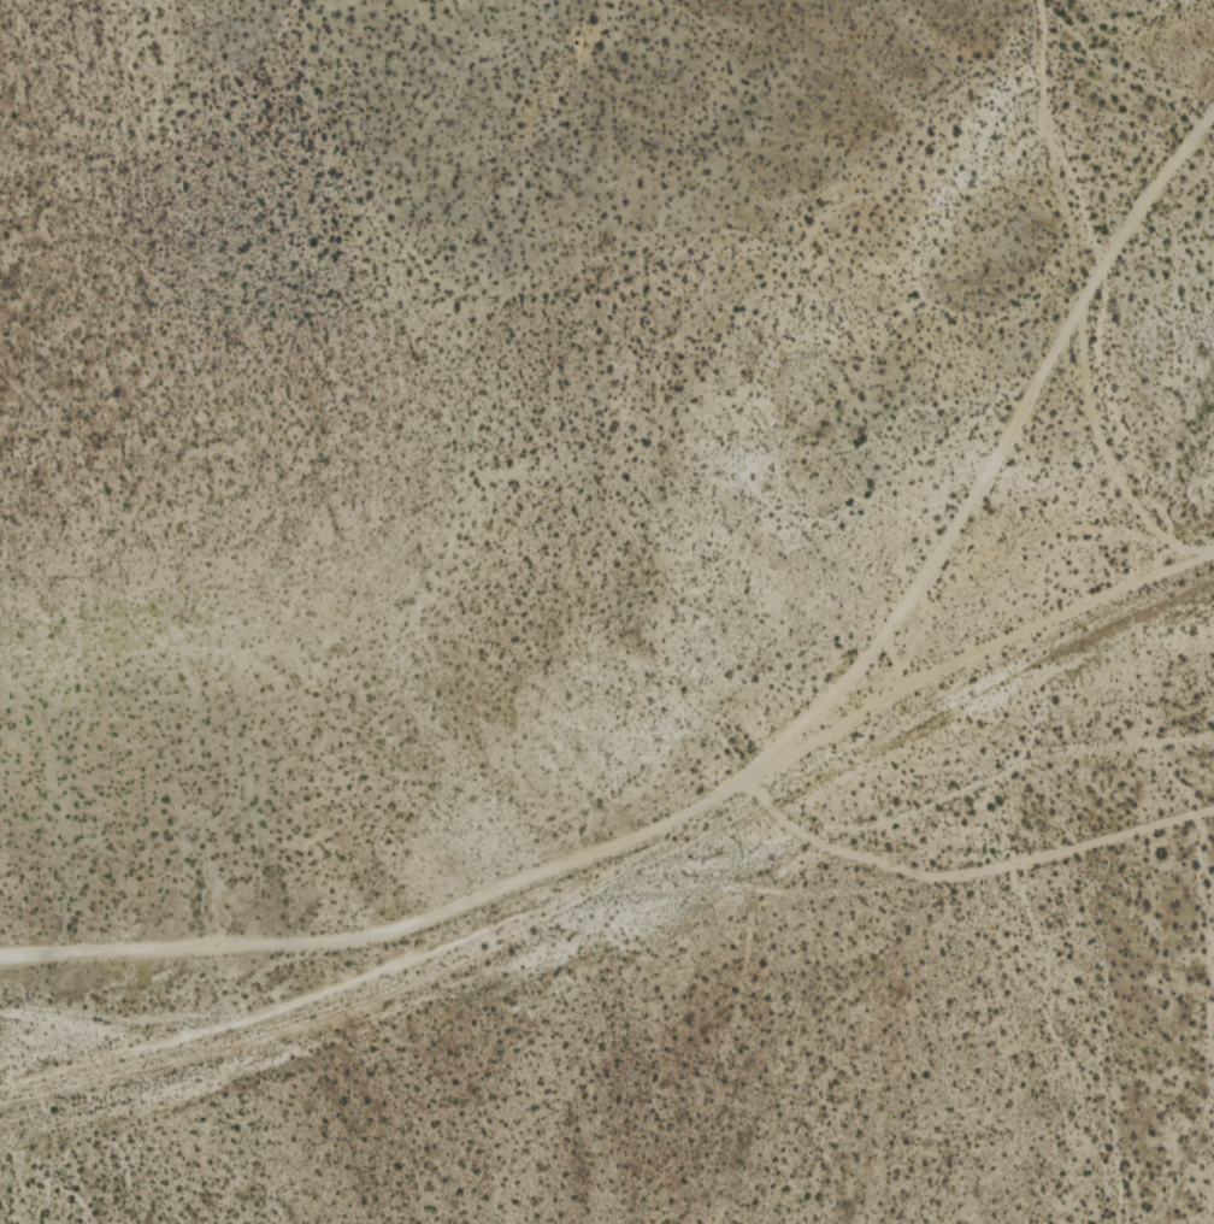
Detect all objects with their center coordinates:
road: (759, 758)

